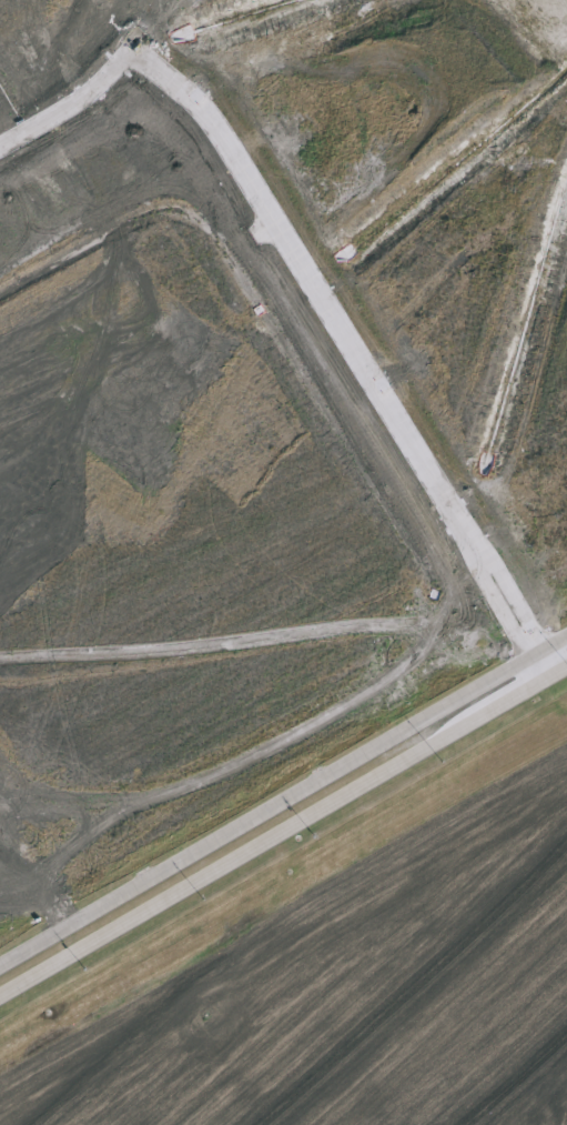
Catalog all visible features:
road: (273, 201)
road: (517, 584)
road: (499, 595)
road: (283, 801)
road: (283, 831)

